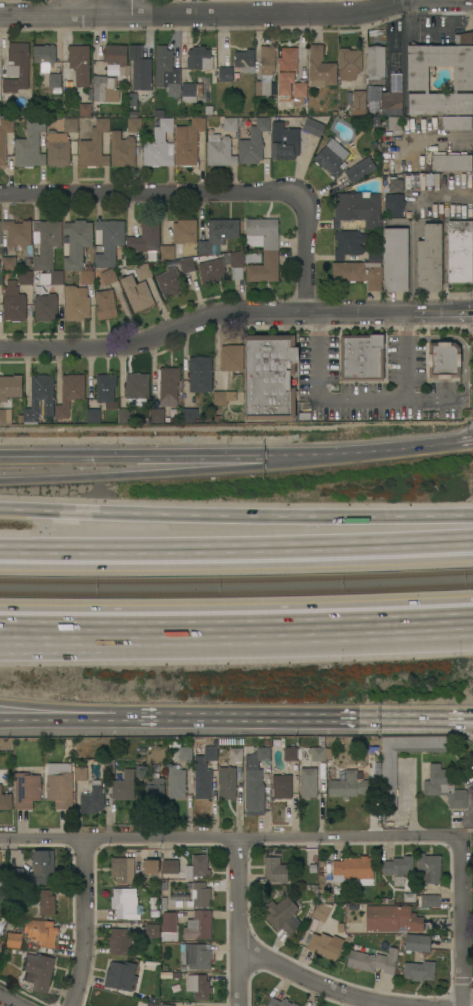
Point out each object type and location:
building: (21, 0)
road: (114, 4)
road: (55, 6)
road: (283, 6)
road: (201, 10)
building: (463, 39)
building: (44, 56)
building: (116, 56)
building: (199, 58)
building: (267, 59)
building: (245, 60)
building: (289, 62)
building: (376, 63)
building: (80, 64)
building: (349, 64)
building: (57, 67)
building: (165, 67)
building: (321, 68)
building: (139, 70)
building: (23, 72)
building: (225, 74)
building: (417, 78)
building: (54, 82)
building: (262, 88)
building: (104, 89)
building: (173, 90)
building: (191, 91)
building: (299, 93)
building: (373, 93)
building: (356, 102)
building: (391, 103)
building: (84, 110)
building: (456, 123)
building: (230, 124)
building: (395, 124)
building: (70, 125)
building: (134, 125)
building: (312, 127)
road: (443, 137)
building: (4, 138)
building: (187, 142)
building: (284, 142)
building: (253, 143)
building: (30, 144)
building: (158, 144)
building: (94, 146)
building: (57, 149)
building: (121, 150)
building: (219, 151)
building: (331, 158)
building: (395, 162)
building: (451, 162)
building: (360, 170)
building: (396, 185)
road: (209, 191)
road: (447, 196)
building: (394, 204)
building: (357, 209)
building: (264, 231)
building: (17, 233)
building: (218, 234)
building: (185, 236)
building: (146, 239)
building: (109, 242)
building: (46, 243)
building: (76, 243)
building: (348, 244)
building: (167, 252)
building: (460, 252)
building: (374, 254)
building: (236, 259)
building: (395, 260)
building: (429, 260)
building: (9, 264)
building: (187, 265)
building: (264, 268)
road: (411, 269)
building: (142, 271)
building: (212, 272)
building: (359, 273)
building: (86, 275)
building: (108, 277)
building: (1, 278)
building: (25, 278)
building: (56, 278)
building: (169, 283)
building: (136, 292)
building: (13, 303)
building: (76, 304)
building: (105, 304)
building: (45, 307)
road: (233, 312)
road: (460, 344)
building: (361, 357)
building: (231, 358)
building: (443, 359)
building: (199, 374)
building: (269, 377)
building: (168, 386)
building: (10, 387)
building: (137, 388)
building: (106, 391)
building: (69, 394)
building: (223, 397)
building: (40, 398)
road: (433, 400)
road: (362, 401)
building: (188, 414)
building: (156, 415)
building: (2, 416)
building: (93, 416)
building: (125, 416)
road: (398, 446)
road: (162, 456)
road: (162, 471)
road: (236, 514)
road: (404, 542)
road: (168, 553)
railway: (236, 578)
railway: (236, 591)
road: (348, 629)
road: (112, 632)
road: (112, 641)
road: (57, 708)
road: (226, 716)
road: (57, 718)
road: (405, 718)
building: (185, 754)
building: (290, 754)
building: (236, 755)
building: (109, 764)
building: (388, 770)
building: (141, 772)
building: (204, 773)
building: (80, 774)
building: (354, 775)
building: (255, 782)
building: (176, 783)
building: (226, 783)
building: (310, 783)
building: (59, 785)
building: (281, 785)
building: (123, 786)
building: (444, 787)
building: (25, 790)
building: (154, 790)
building: (92, 800)
building: (5, 801)
road: (313, 839)
building: (311, 860)
building: (168, 866)
building: (149, 867)
building: (198, 867)
building: (39, 868)
building: (398, 868)
building: (428, 869)
building: (122, 870)
building: (275, 870)
building: (354, 870)
building: (15, 874)
building: (3, 879)
building: (163, 884)
building: (312, 893)
building: (358, 893)
building: (370, 893)
building: (200, 895)
building: (407, 897)
building: (177, 899)
building: (44, 901)
building: (430, 901)
building: (125, 903)
building: (163, 903)
building: (322, 912)
building: (155, 915)
building: (282, 915)
building: (392, 919)
road: (238, 922)
road: (86, 924)
building: (198, 925)
building: (169, 927)
building: (340, 928)
building: (152, 931)
building: (38, 932)
building: (11, 940)
building: (118, 941)
building: (376, 941)
building: (417, 942)
building: (0, 943)
building: (0, 945)
building: (325, 945)
building: (0, 949)
building: (7, 955)
building: (196, 956)
building: (373, 961)
building: (37, 971)
building: (419, 971)
building: (168, 975)
building: (120, 976)
road: (310, 983)
building: (197, 986)
road: (12, 1000)
building: (153, 1000)
building: (280, 1002)
building: (151, 1004)
building: (145, 1005)
building: (165, 1005)
road: (468, 1005)

